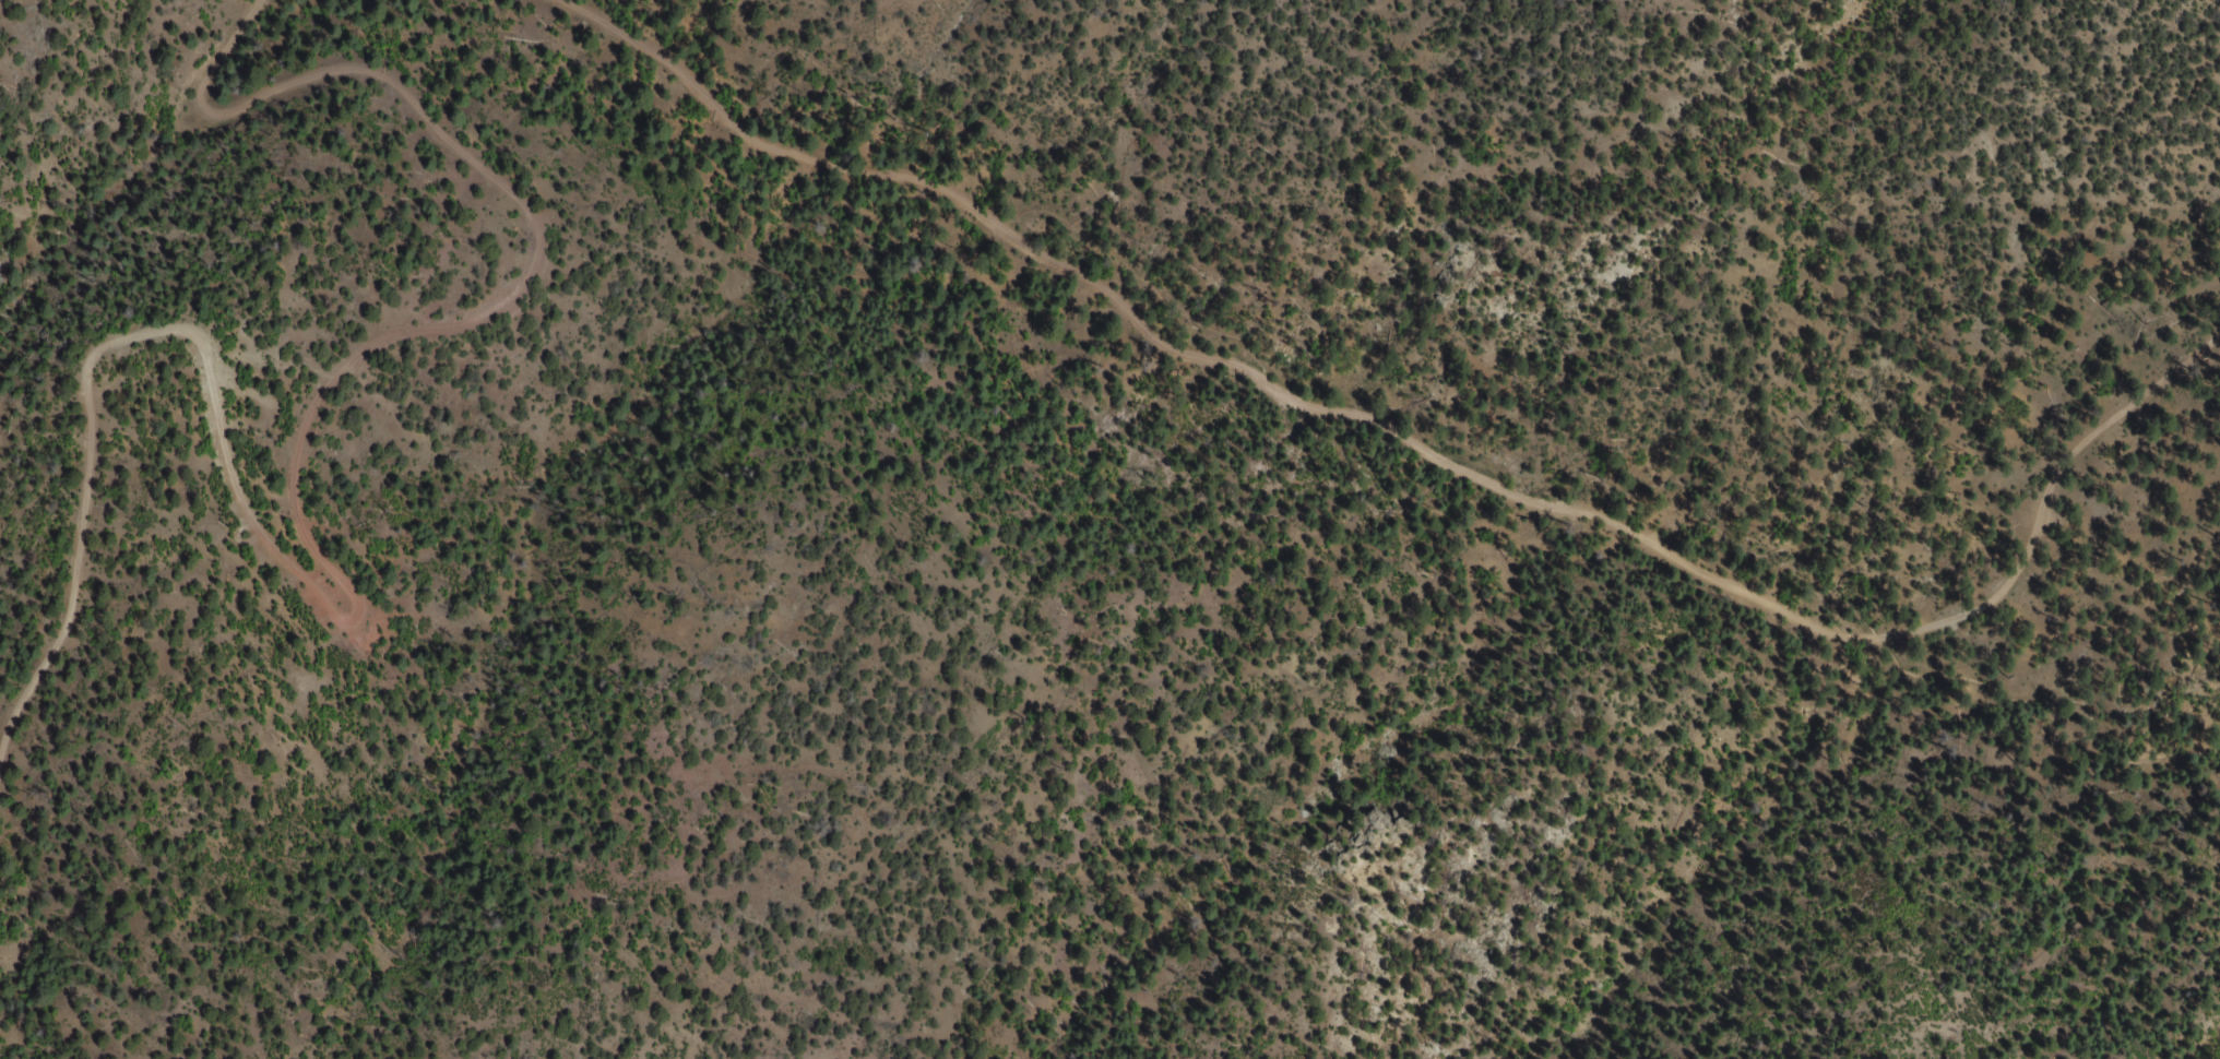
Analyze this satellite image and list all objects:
road: (1292, 403)
road: (2118, 415)
road: (2126, 443)
road: (298, 532)
road: (2089, 674)

